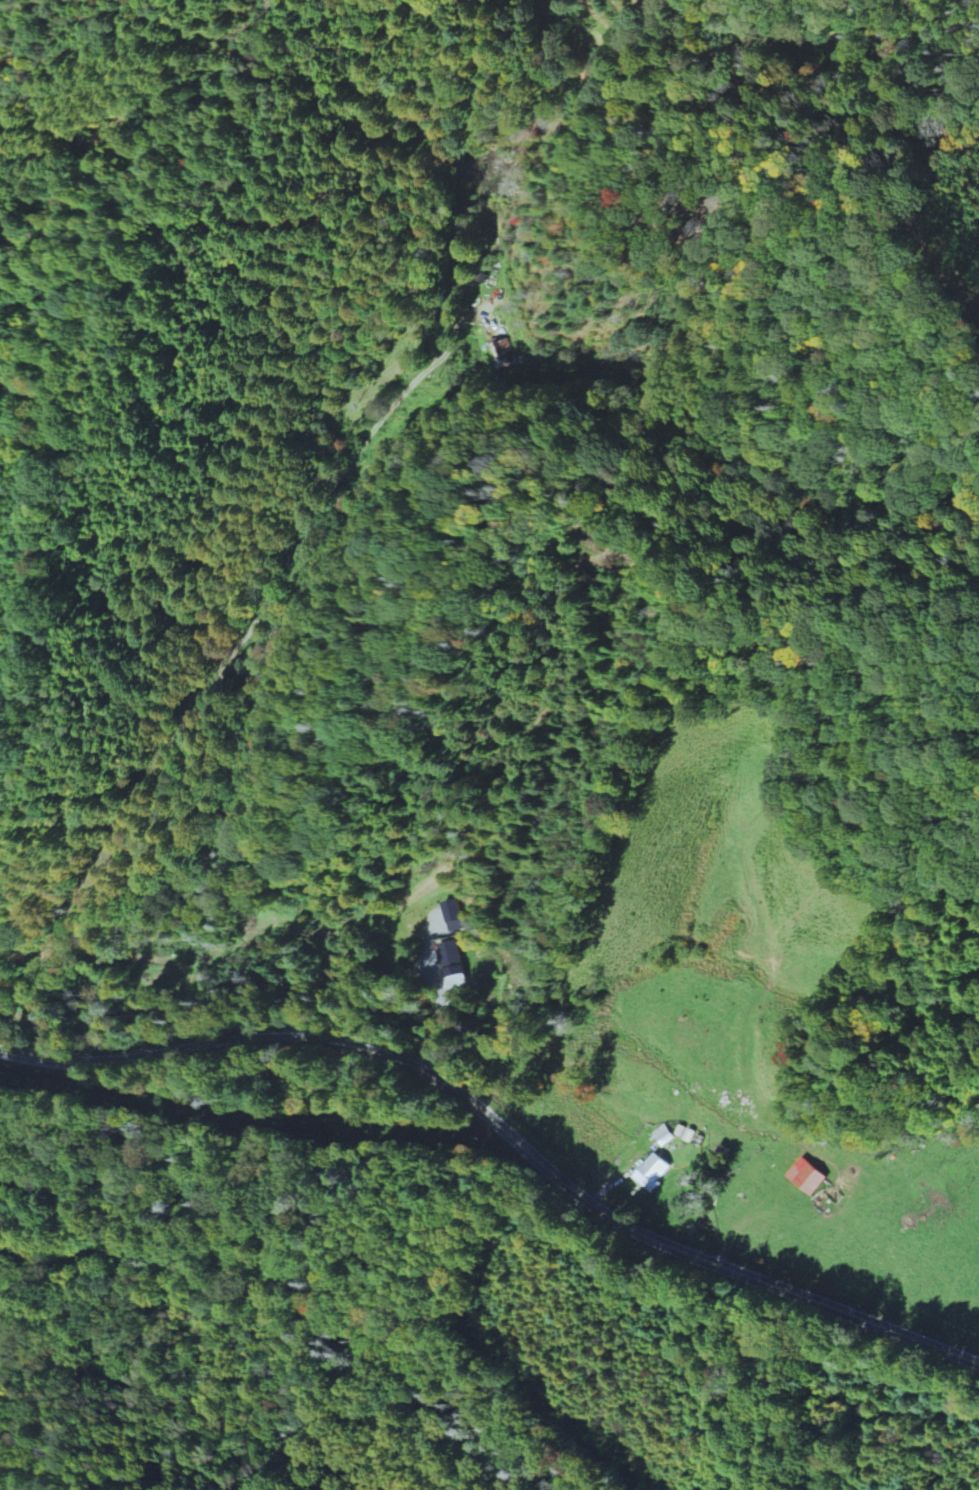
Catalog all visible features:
road: (10, 22)
road: (730, 47)
road: (79, 174)
road: (506, 1129)

